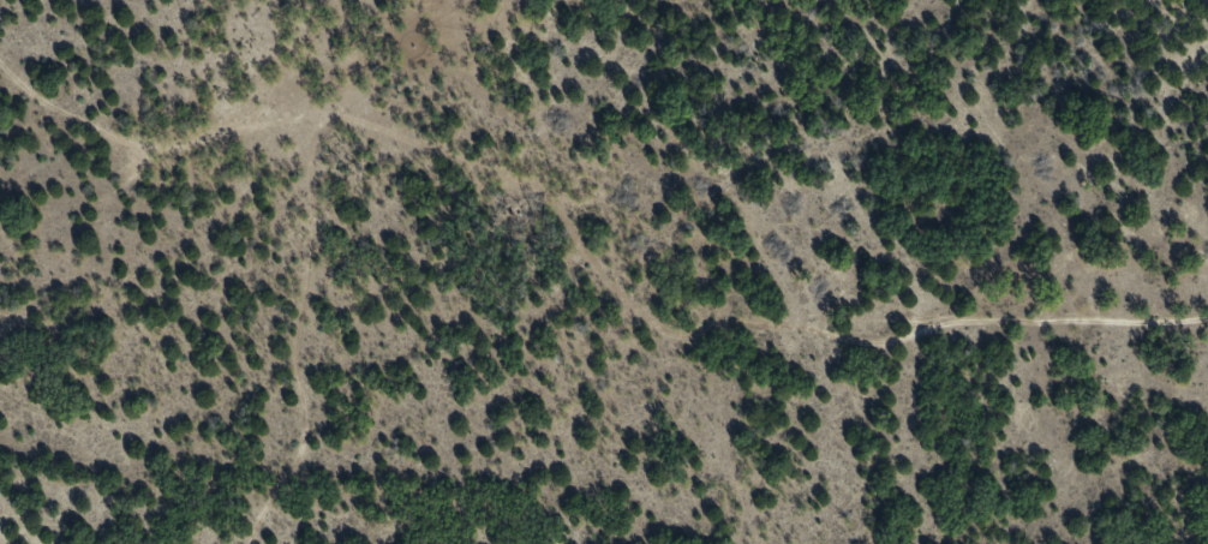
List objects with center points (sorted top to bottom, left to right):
road: (592, 213)

